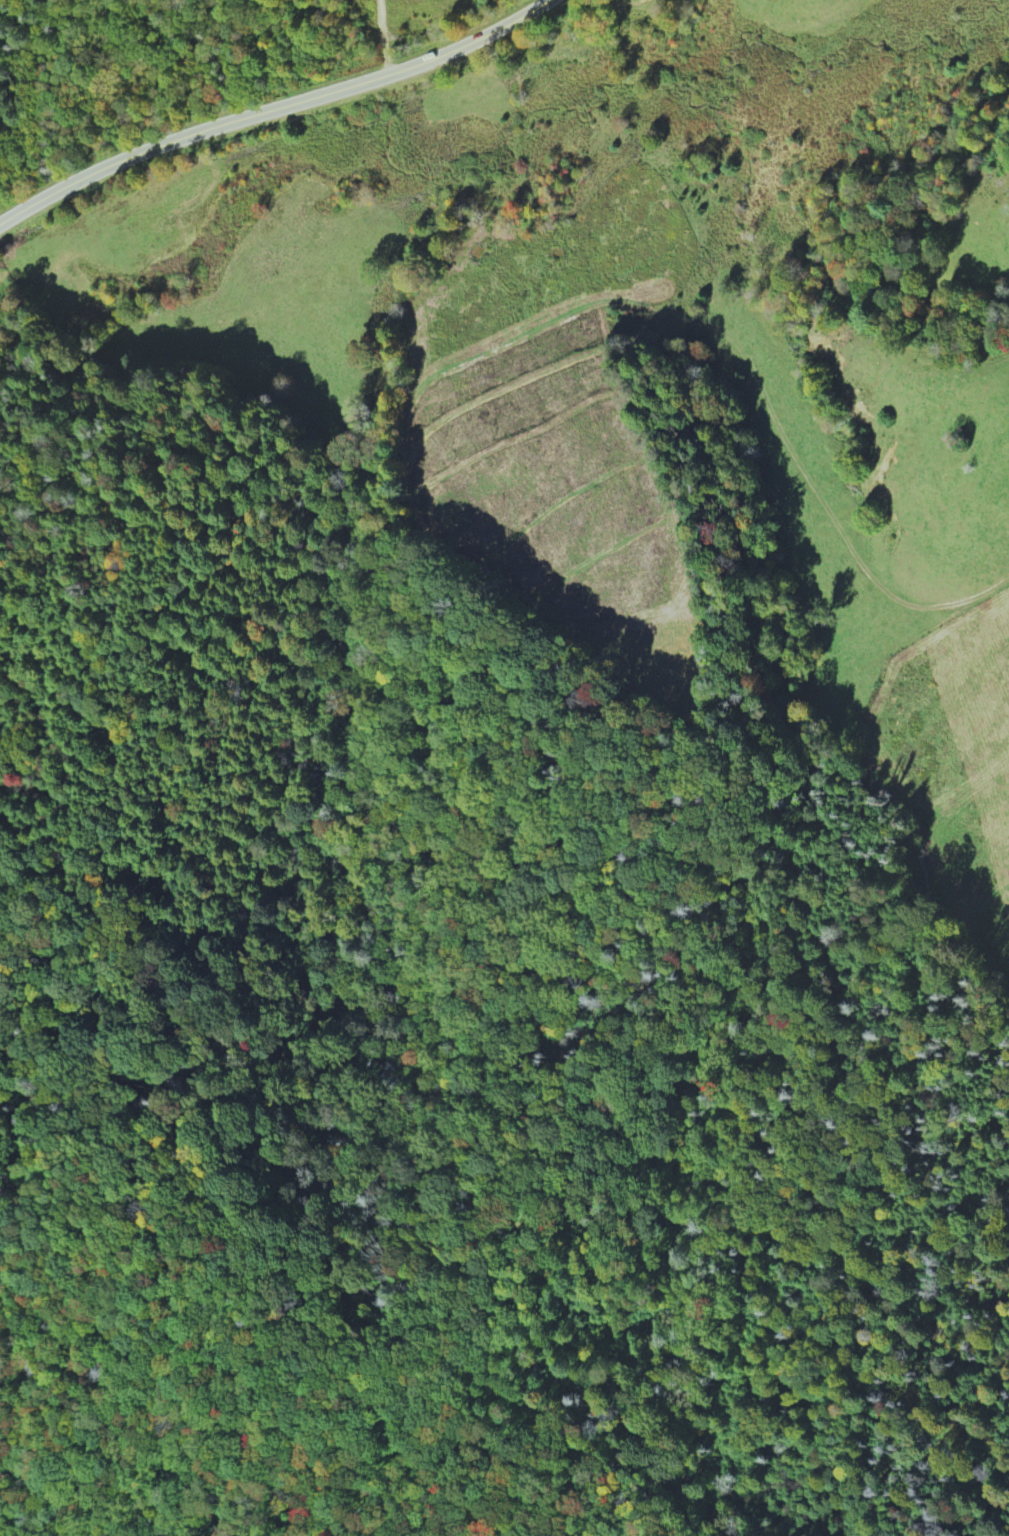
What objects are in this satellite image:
road: (269, 110)

